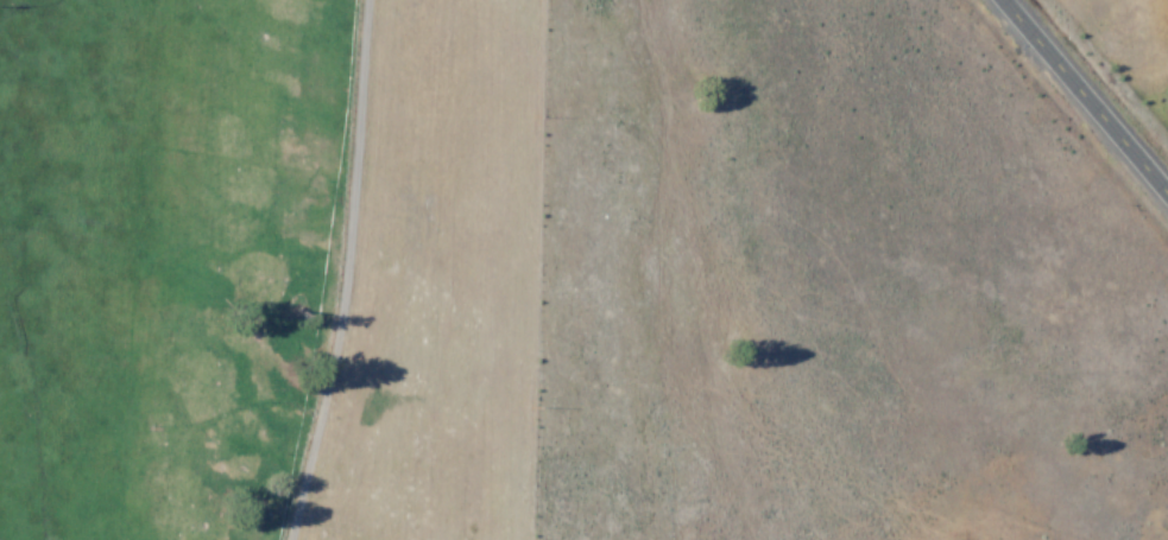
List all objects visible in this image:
road: (1082, 100)

